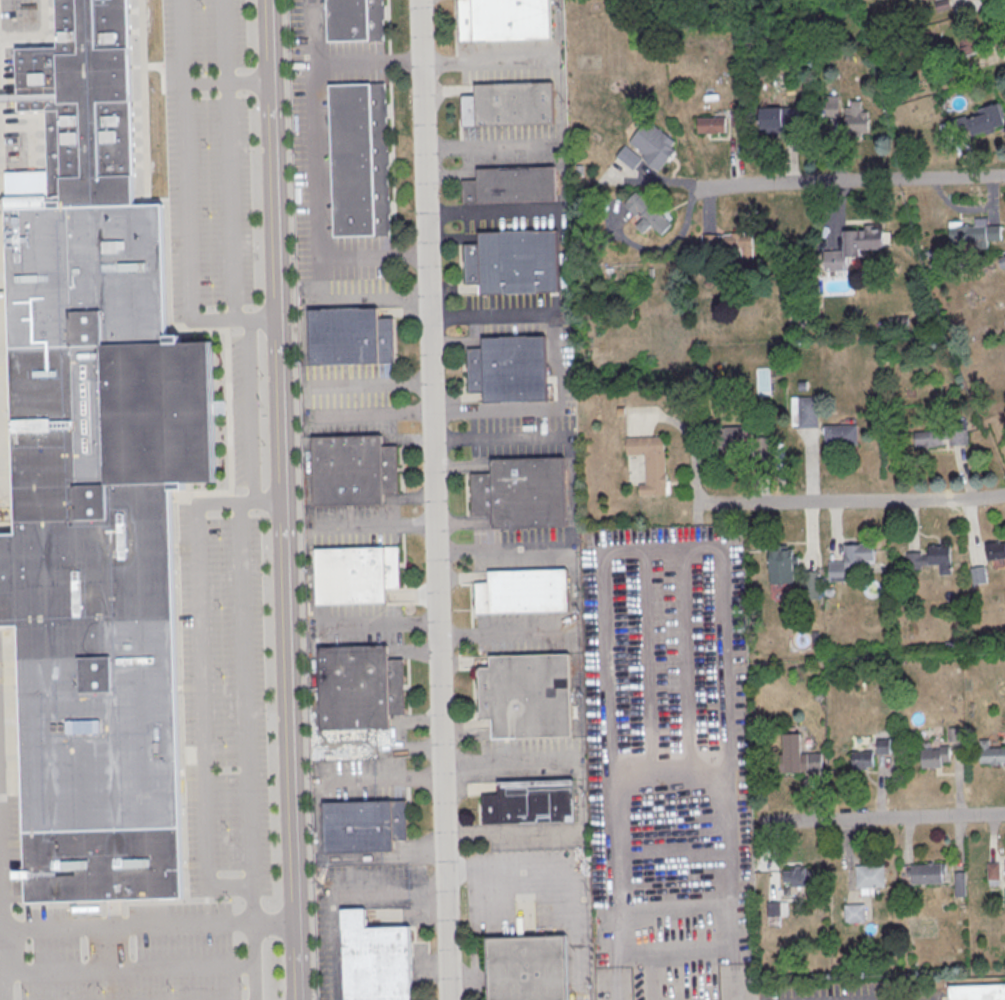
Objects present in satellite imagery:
building: (357, 19)
building: (504, 20)
road: (559, 30)
road: (317, 32)
road: (536, 59)
road: (229, 83)
building: (510, 104)
building: (856, 117)
building: (778, 122)
building: (711, 125)
building: (978, 125)
road: (525, 143)
building: (648, 147)
road: (320, 159)
building: (360, 159)
road: (230, 161)
road: (917, 177)
road: (762, 183)
building: (511, 185)
road: (188, 190)
road: (544, 210)
building: (646, 214)
building: (971, 233)
building: (731, 243)
building: (852, 247)
building: (1002, 260)
building: (515, 262)
road: (357, 293)
building: (350, 337)
road: (557, 358)
building: (509, 369)
building: (763, 380)
building: (802, 385)
road: (252, 397)
building: (808, 412)
building: (840, 434)
building: (941, 437)
road: (501, 439)
building: (737, 441)
building: (651, 462)
building: (354, 470)
building: (96, 481)
building: (522, 492)
road: (284, 499)
road: (435, 500)
road: (853, 501)
road: (377, 526)
building: (995, 549)
road: (498, 550)
building: (930, 557)
building: (851, 561)
building: (781, 565)
building: (979, 574)
building: (359, 575)
building: (810, 585)
building: (523, 592)
road: (506, 635)
building: (360, 688)
road: (245, 691)
building: (528, 696)
road: (203, 698)
building: (954, 734)
building: (883, 746)
building: (799, 755)
building: (993, 756)
building: (935, 757)
building: (862, 760)
road: (581, 795)
building: (531, 802)
road: (878, 819)
road: (318, 824)
building: (364, 825)
road: (570, 870)
building: (994, 870)
building: (927, 874)
building: (870, 876)
building: (798, 877)
road: (1, 878)
road: (338, 891)
building: (777, 907)
building: (854, 913)
road: (148, 927)
road: (113, 949)
building: (375, 960)
road: (252, 961)
road: (3, 966)
road: (128, 968)
building: (527, 968)
parking lot: (923, 990)
parking lot: (832, 991)
building: (978, 993)
road: (921, 994)

